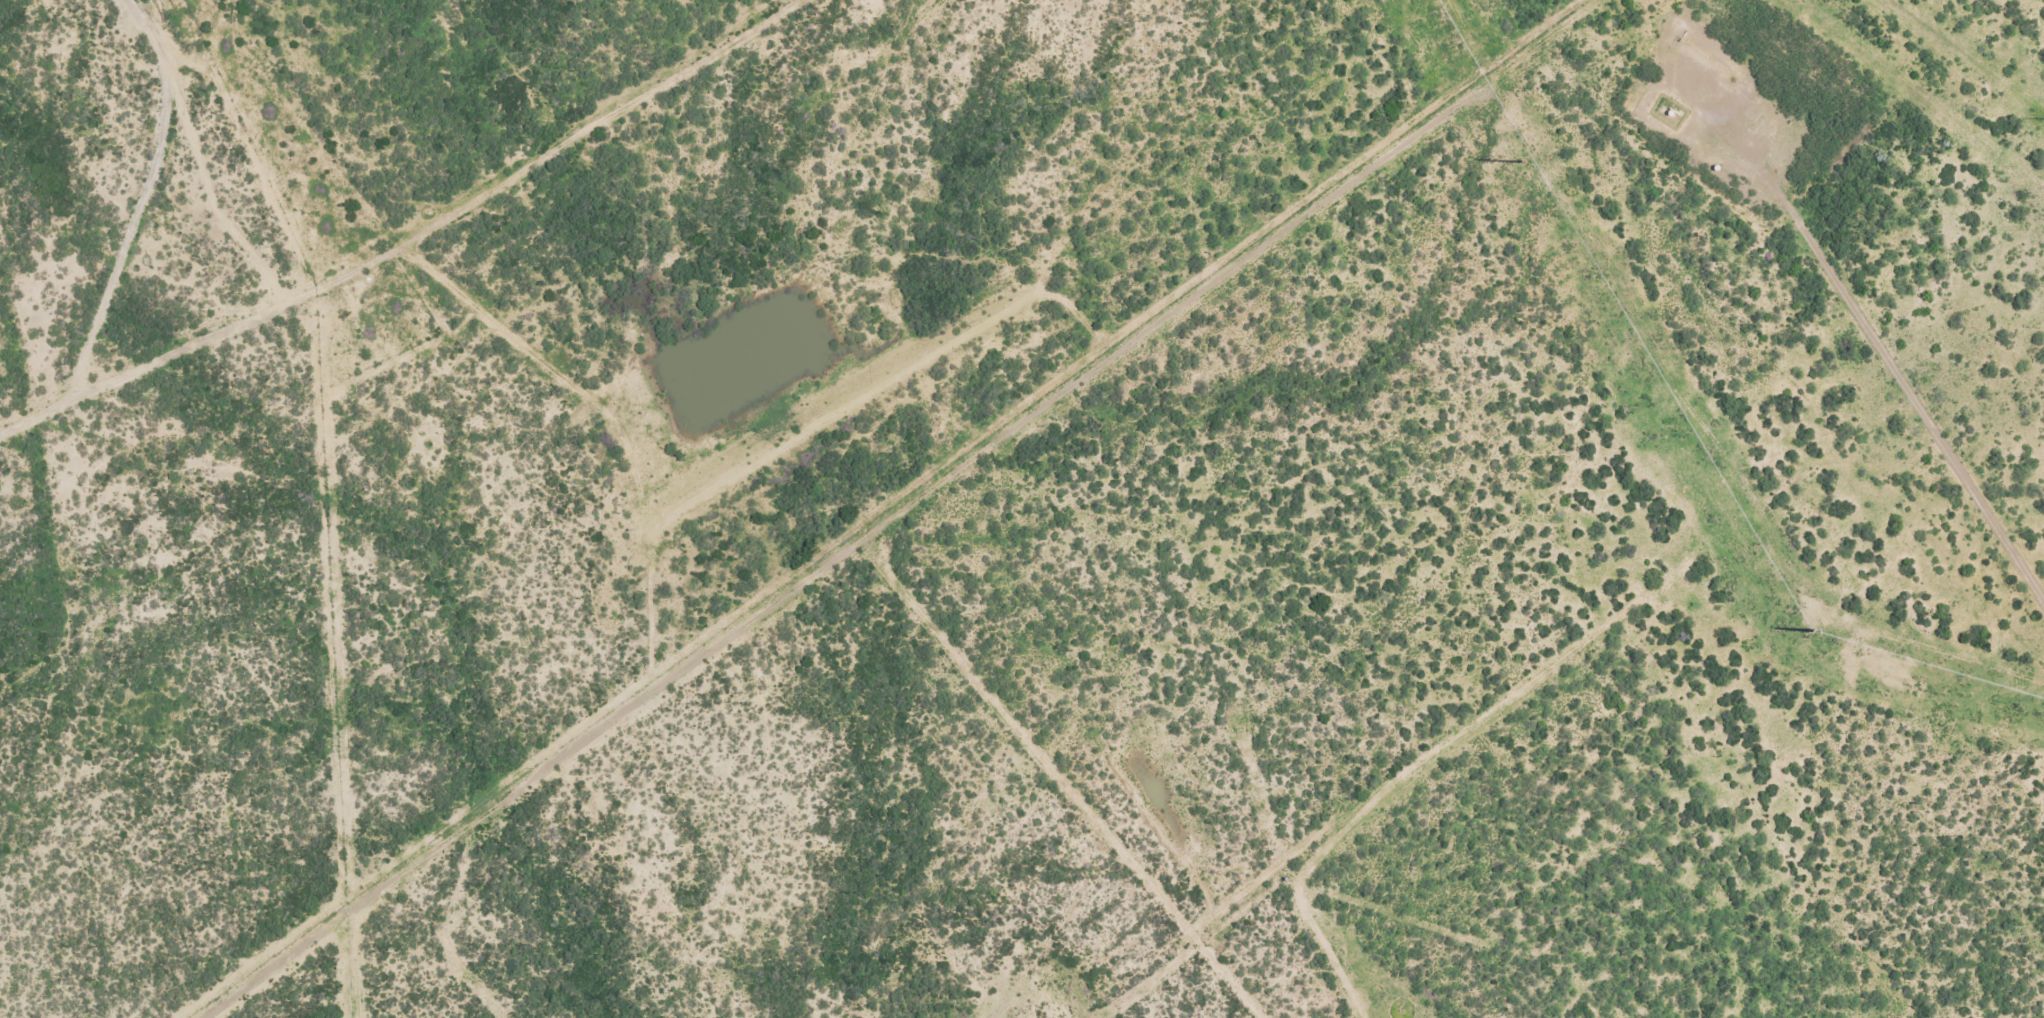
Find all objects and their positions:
power tower: (2041, 119)
road: (186, 147)
power tower: (1524, 164)
road: (383, 230)
road: (117, 246)
power tower: (1813, 632)

